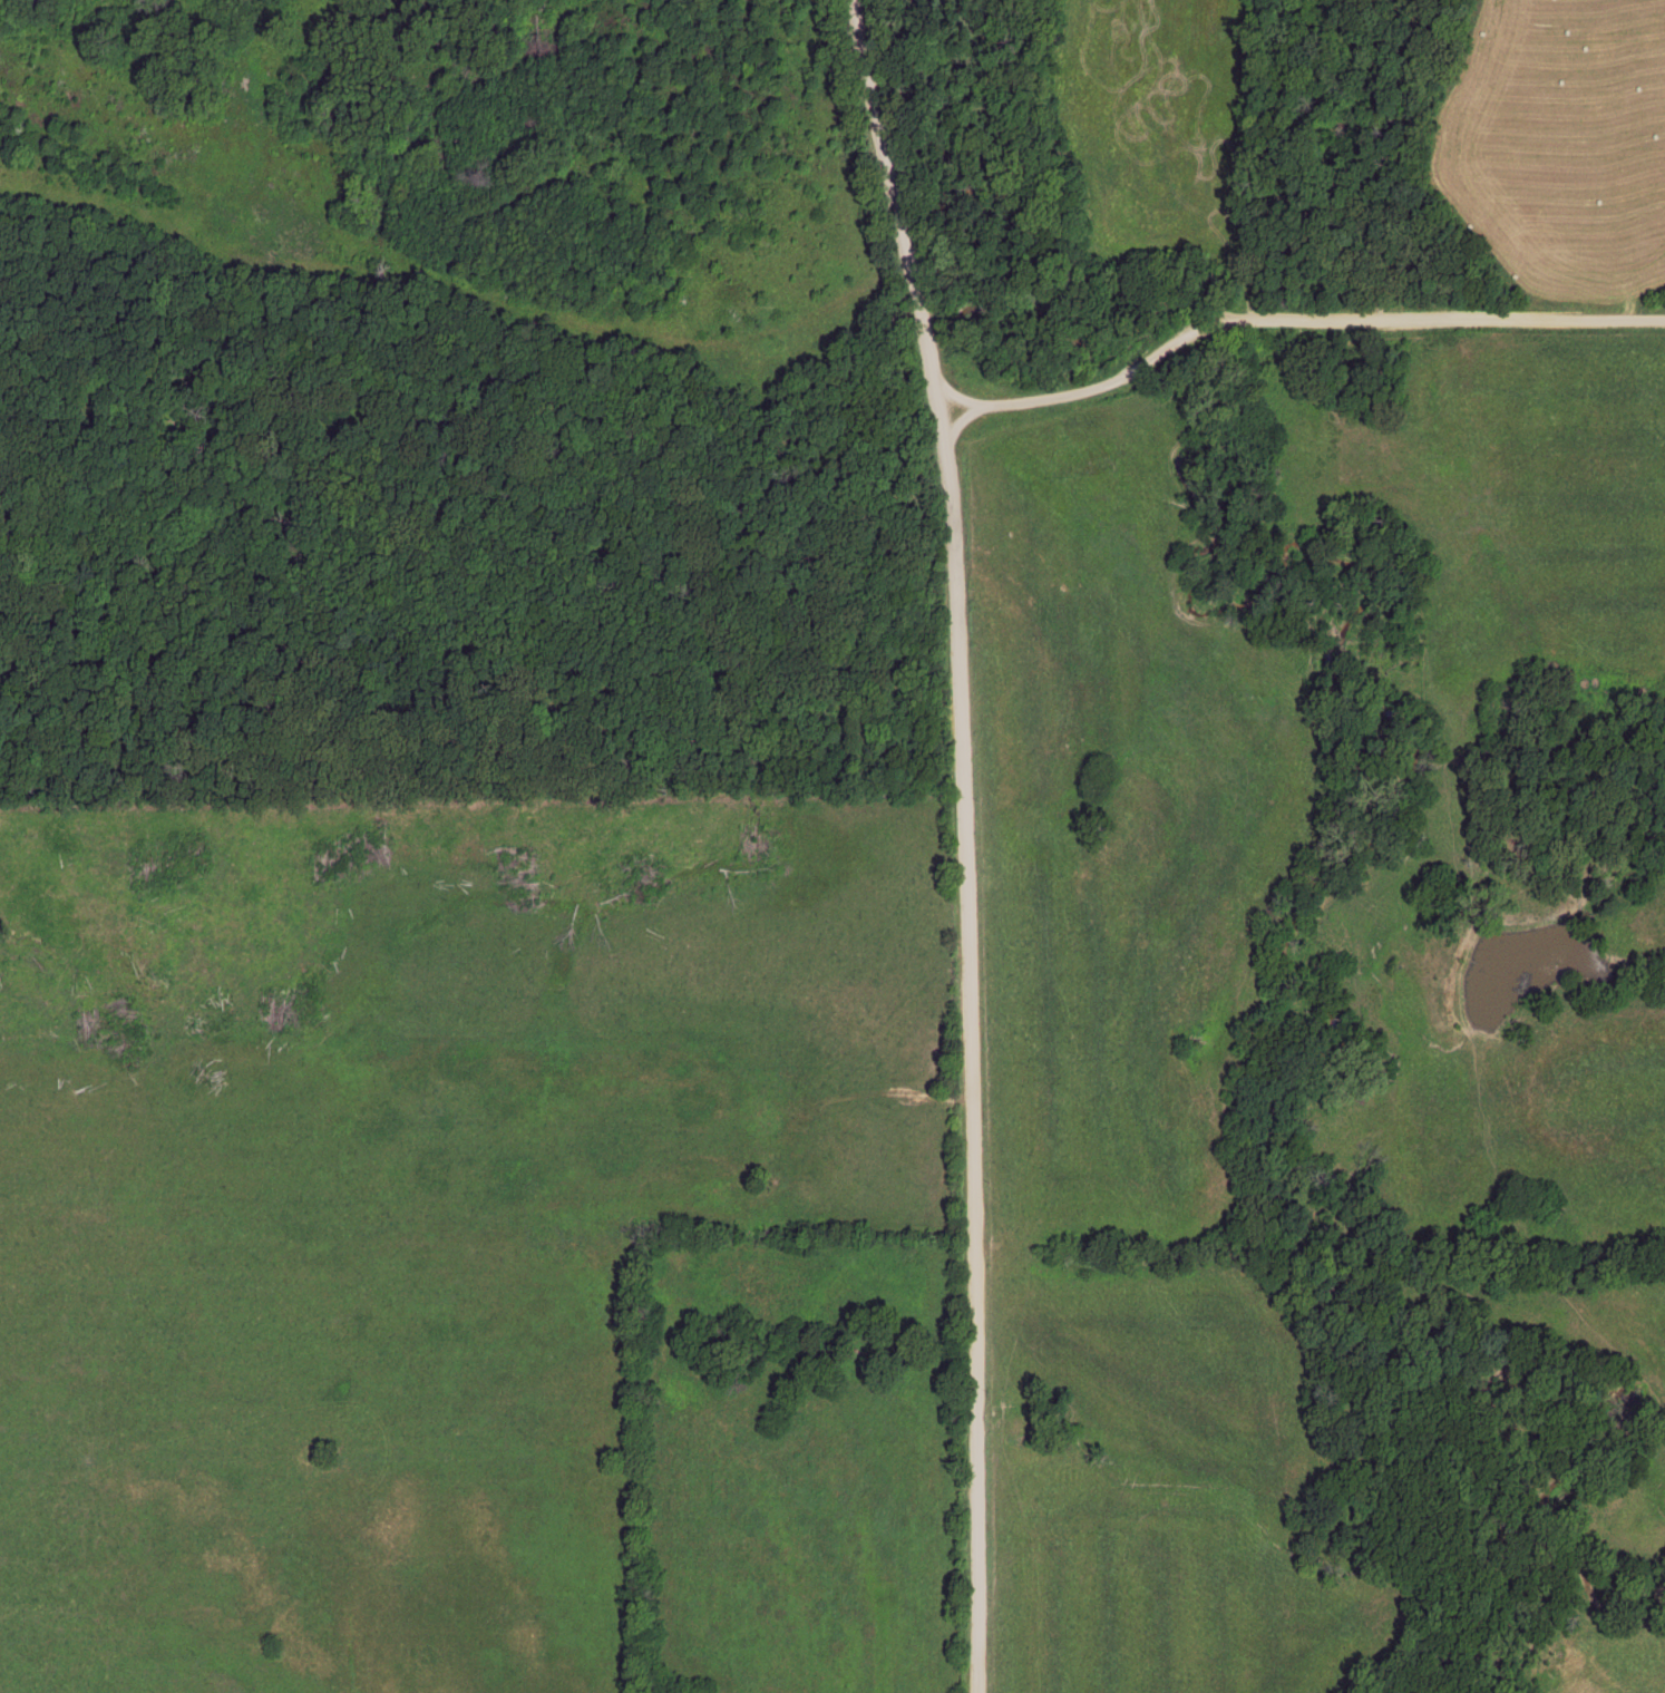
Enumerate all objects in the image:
road: (1293, 321)
road: (964, 839)

